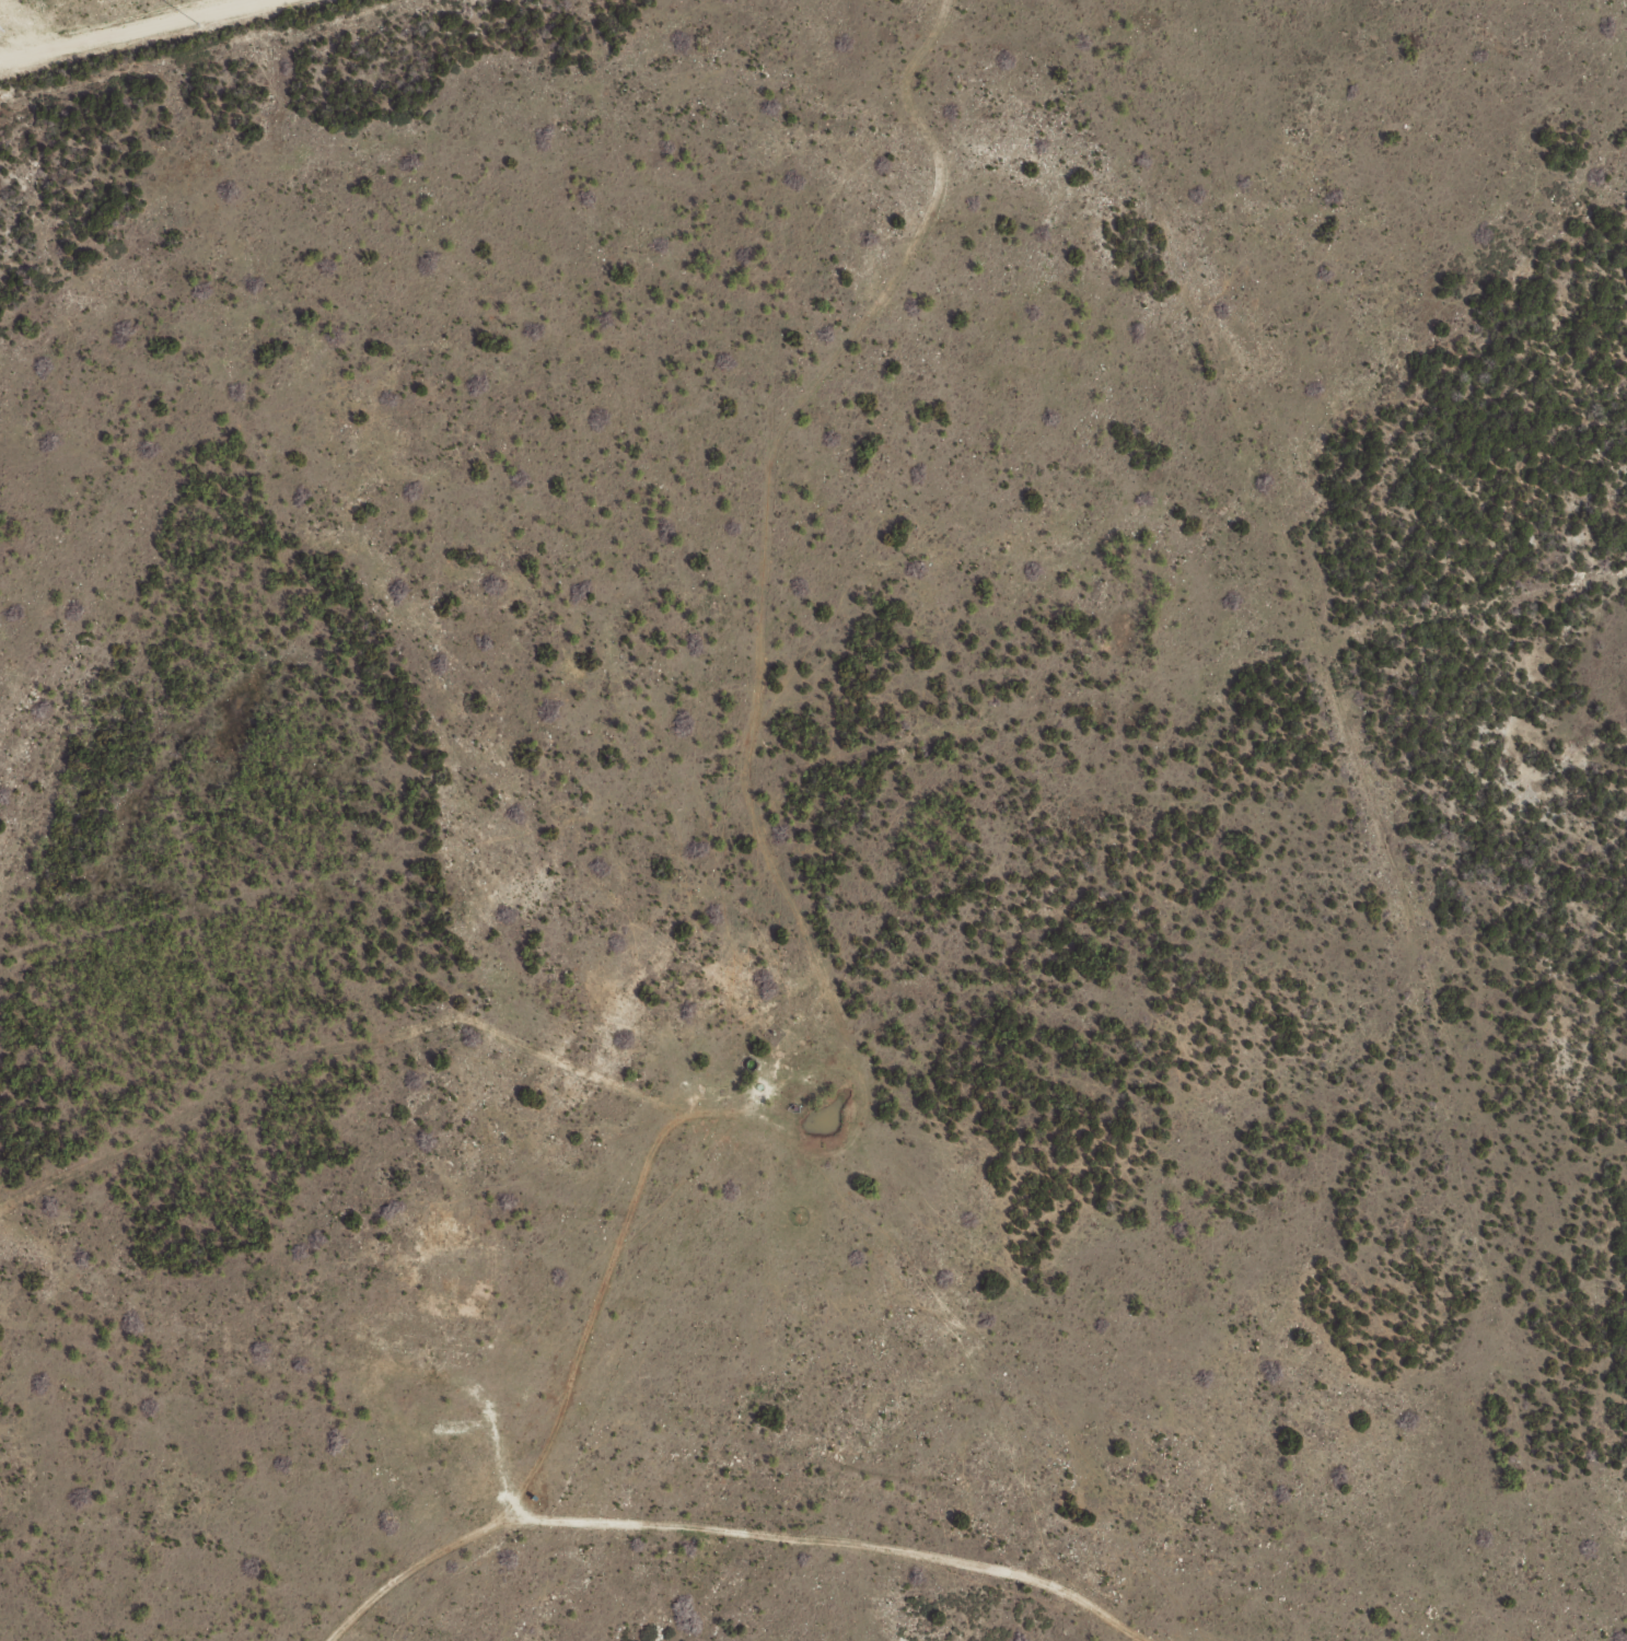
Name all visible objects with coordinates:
power tower: (198, 24)
road: (228, 53)
road: (560, 387)
road: (1323, 784)
road: (712, 1560)
road: (182, 1587)
road: (348, 1614)

